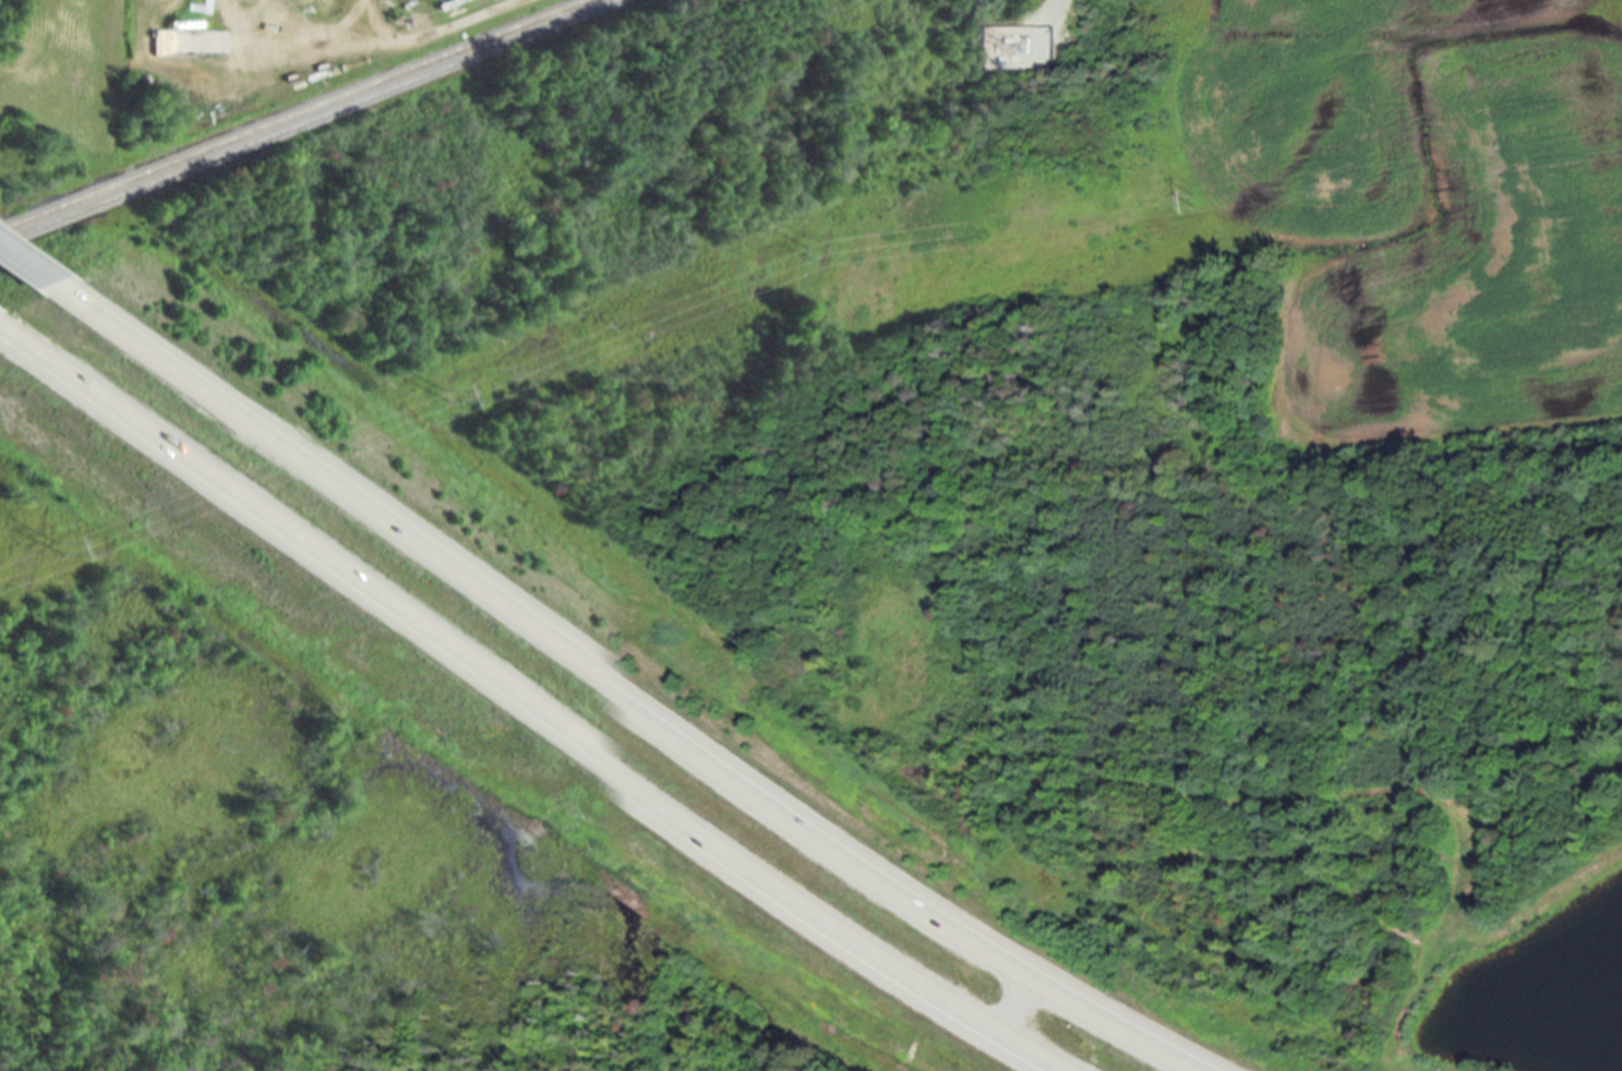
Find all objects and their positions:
building: (192, 41)
building: (1016, 47)
road: (101, 73)
railway: (295, 116)
railway: (309, 121)
power tower: (1194, 198)
crop: (1296, 204)
power tower: (808, 246)
road: (33, 277)
park: (602, 293)
power tower: (441, 389)
power tower: (55, 543)
road: (632, 697)
road: (530, 712)
park: (285, 794)
road: (1028, 1007)

